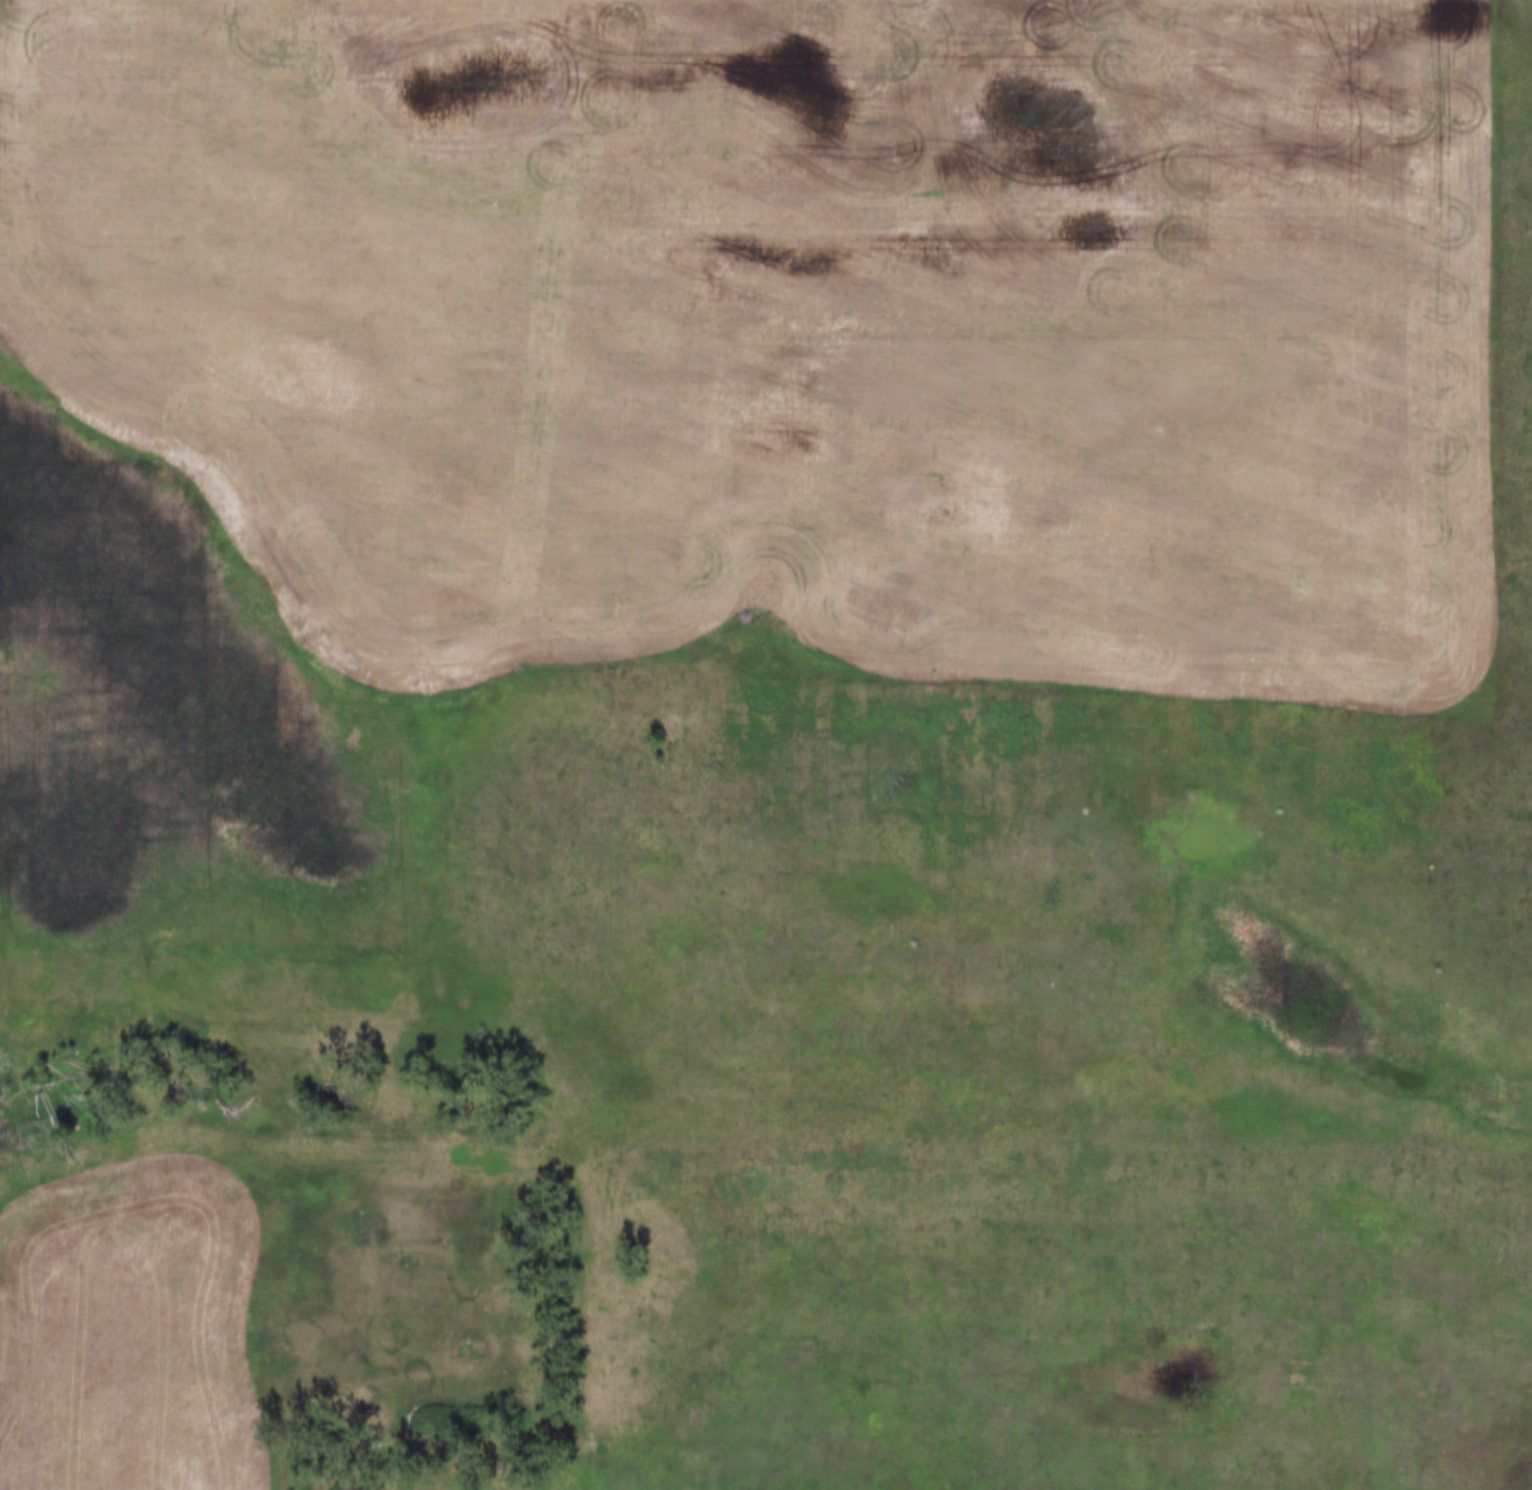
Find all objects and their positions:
road: (350, 1391)

